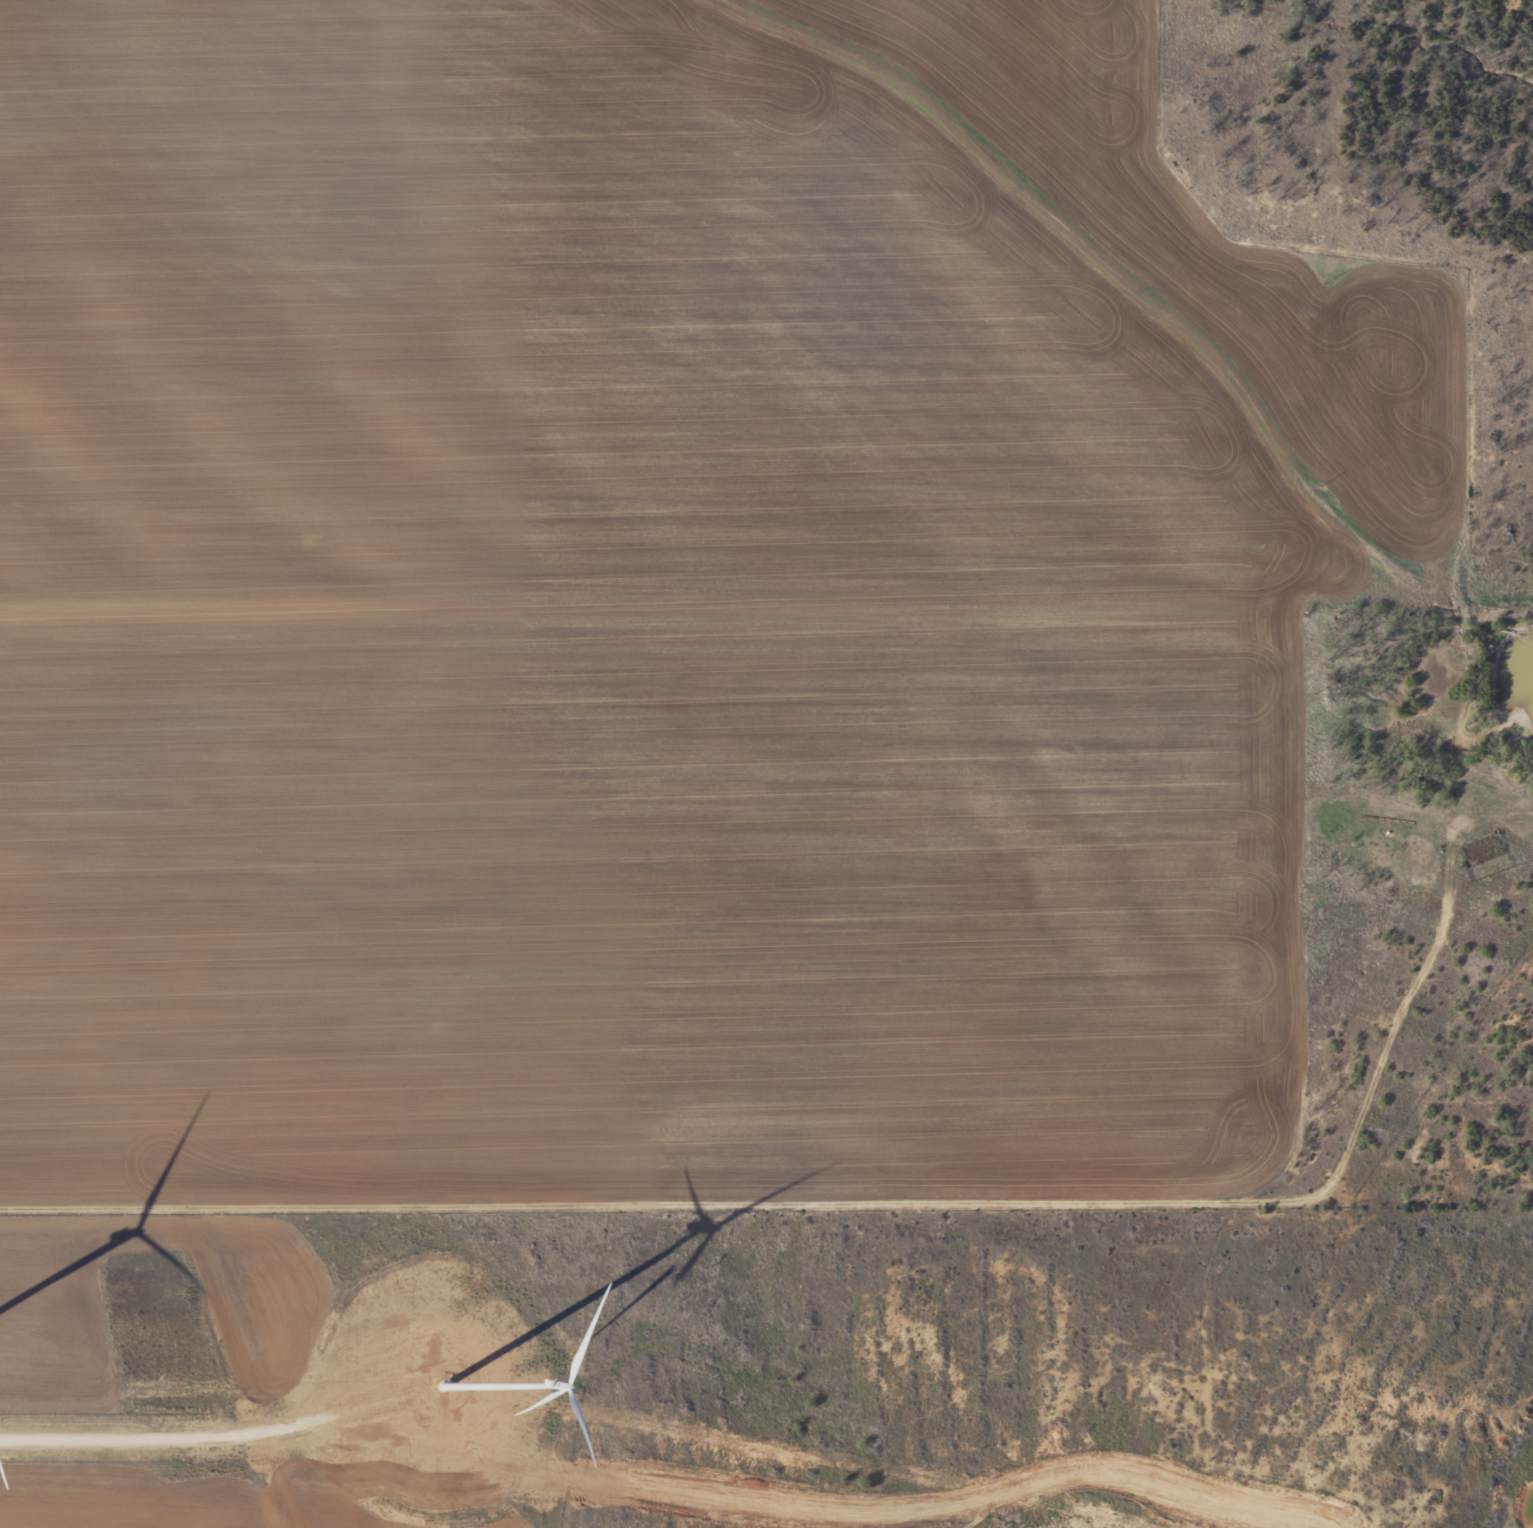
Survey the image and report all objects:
road: (759, 1220)
wind turbine: (443, 1381)
road: (1128, 1525)

